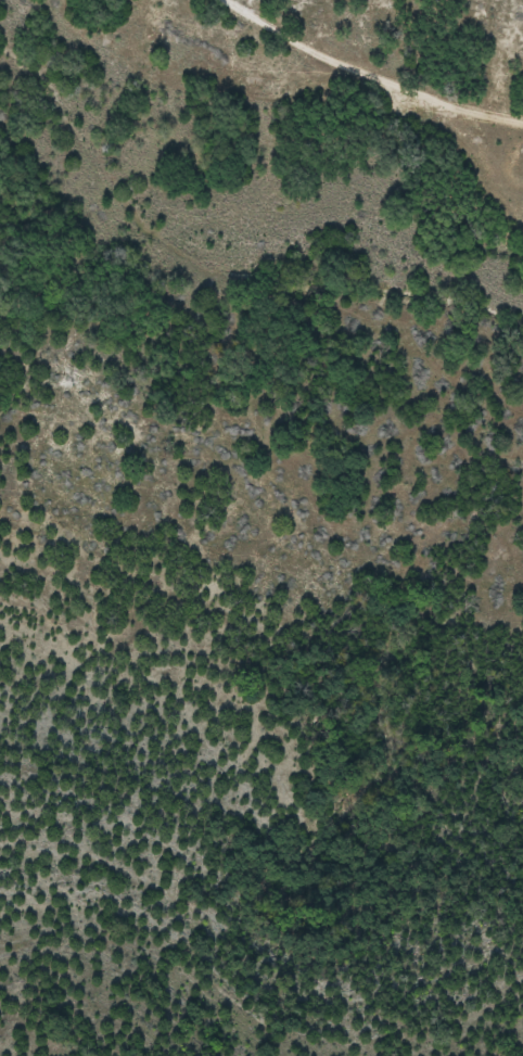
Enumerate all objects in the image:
road: (372, 76)

